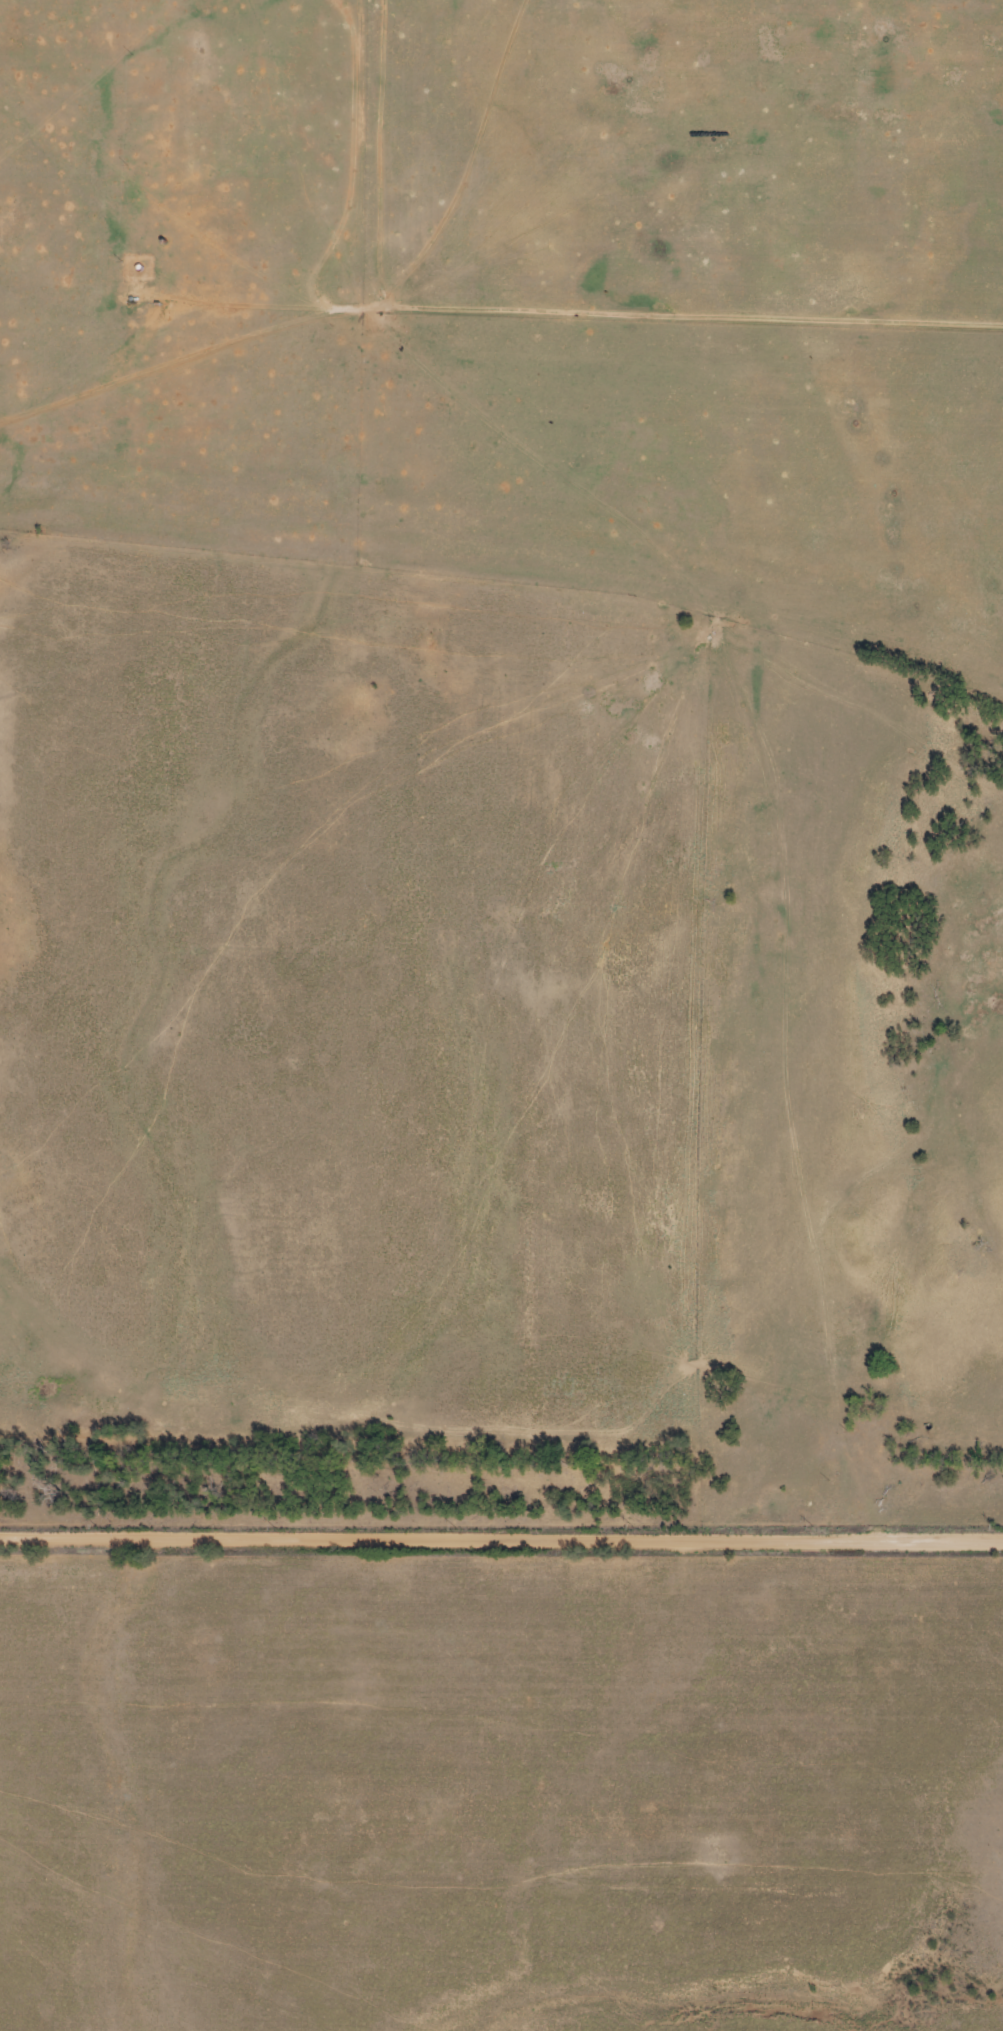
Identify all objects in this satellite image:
road: (501, 1538)

